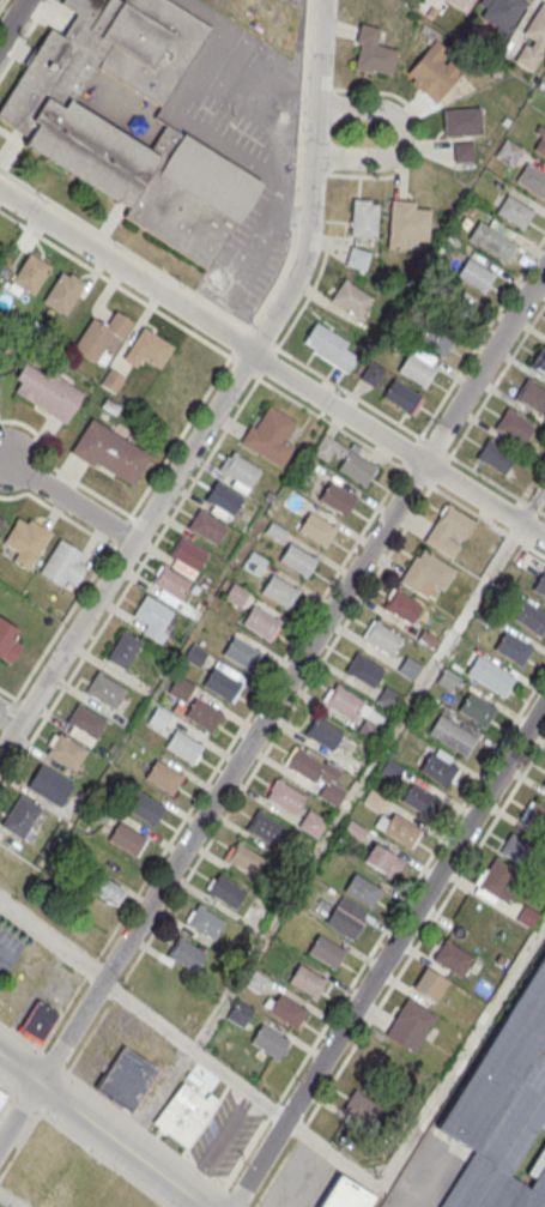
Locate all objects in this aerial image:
building: (456, 2)
building: (501, 12)
road: (12, 20)
road: (24, 38)
building: (533, 38)
building: (373, 52)
building: (435, 71)
road: (196, 76)
road: (291, 105)
building: (129, 120)
building: (462, 122)
road: (404, 137)
building: (539, 143)
building: (462, 152)
building: (508, 152)
building: (532, 180)
building: (514, 211)
building: (364, 217)
building: (406, 224)
road: (266, 230)
building: (492, 239)
building: (357, 258)
building: (31, 274)
building: (474, 274)
building: (63, 292)
building: (351, 297)
building: (102, 338)
building: (435, 338)
building: (331, 346)
building: (147, 349)
building: (539, 360)
building: (418, 366)
road: (485, 366)
road: (271, 367)
building: (371, 374)
building: (47, 391)
building: (532, 396)
building: (402, 397)
road: (223, 398)
building: (514, 426)
building: (271, 436)
building: (109, 451)
building: (496, 457)
building: (357, 466)
building: (240, 469)
building: (223, 497)
building: (337, 497)
road: (73, 500)
building: (293, 501)
road: (532, 501)
building: (1, 521)
building: (206, 526)
building: (317, 529)
building: (449, 530)
building: (26, 541)
building: (186, 556)
building: (297, 559)
building: (63, 563)
building: (254, 563)
building: (426, 574)
building: (170, 583)
building: (540, 585)
building: (278, 590)
building: (236, 596)
building: (402, 606)
building: (153, 617)
building: (529, 618)
building: (260, 622)
road: (54, 632)
building: (382, 639)
building: (7, 641)
building: (123, 650)
building: (513, 650)
building: (241, 652)
building: (408, 670)
building: (364, 671)
building: (491, 678)
building: (447, 681)
building: (222, 683)
building: (104, 689)
building: (180, 689)
road: (7, 693)
building: (388, 699)
building: (476, 710)
building: (202, 714)
road: (8, 718)
building: (158, 719)
building: (86, 720)
building: (454, 731)
building: (325, 735)
building: (183, 746)
building: (67, 750)
building: (438, 768)
building: (390, 770)
road: (232, 773)
building: (163, 776)
building: (317, 776)
building: (49, 784)
building: (544, 786)
building: (285, 798)
building: (419, 799)
building: (374, 801)
building: (145, 808)
building: (20, 815)
building: (534, 816)
building: (311, 825)
building: (400, 828)
building: (265, 829)
building: (353, 832)
building: (126, 838)
building: (514, 849)
building: (244, 859)
building: (381, 859)
building: (497, 881)
building: (362, 889)
building: (105, 891)
building: (225, 892)
building: (344, 922)
building: (205, 923)
road: (52, 940)
parking lot: (8, 949)
building: (326, 950)
building: (186, 955)
road: (388, 955)
building: (453, 959)
building: (307, 980)
building: (430, 984)
building: (287, 1010)
building: (238, 1014)
building: (38, 1021)
building: (410, 1025)
building: (268, 1040)
road: (193, 1050)
road: (465, 1057)
building: (126, 1078)
building: (2, 1097)
road: (157, 1097)
road: (6, 1102)
building: (502, 1106)
building: (361, 1108)
road: (18, 1112)
building: (183, 1114)
road: (101, 1130)
parking lot: (223, 1137)
road: (219, 1143)
road: (20, 1145)
road: (90, 1148)
road: (334, 1155)
railway: (533, 1164)
building: (77, 1175)
parking lot: (301, 1179)
building: (345, 1195)
road: (7, 1201)

